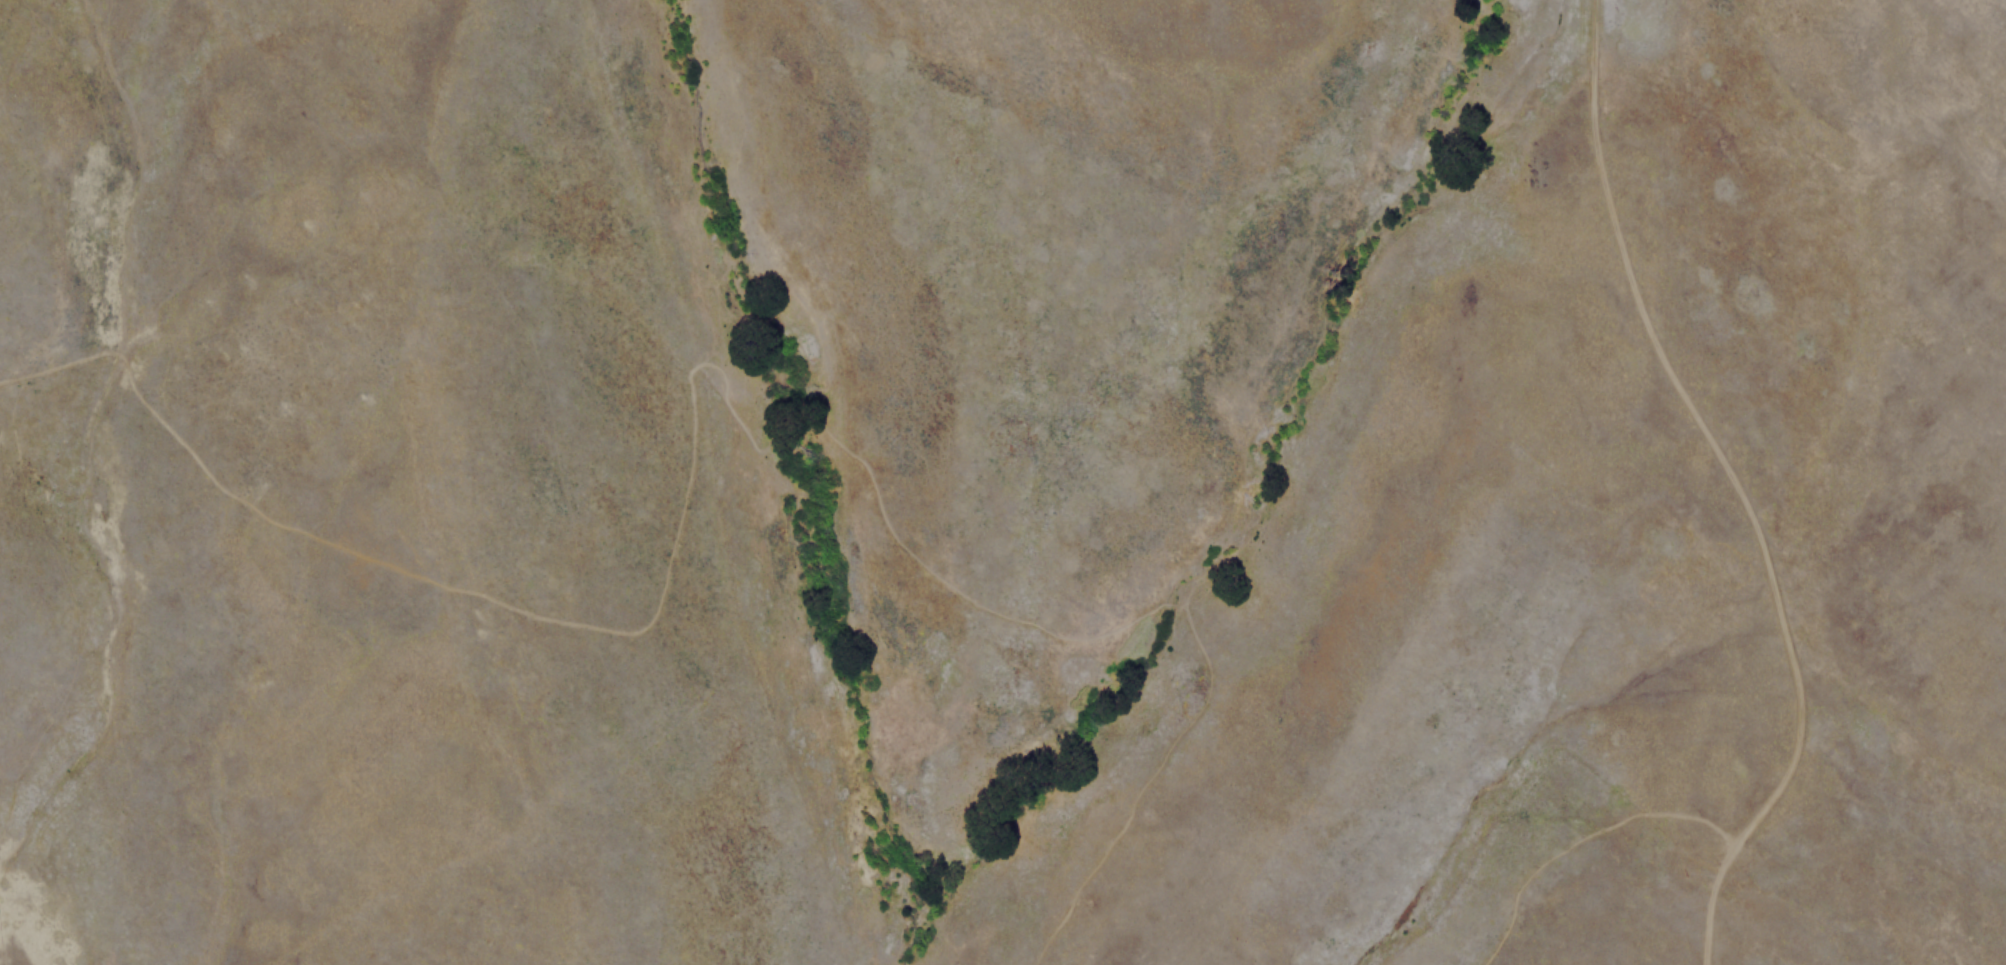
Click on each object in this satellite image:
road: (720, 373)
road: (1733, 485)

